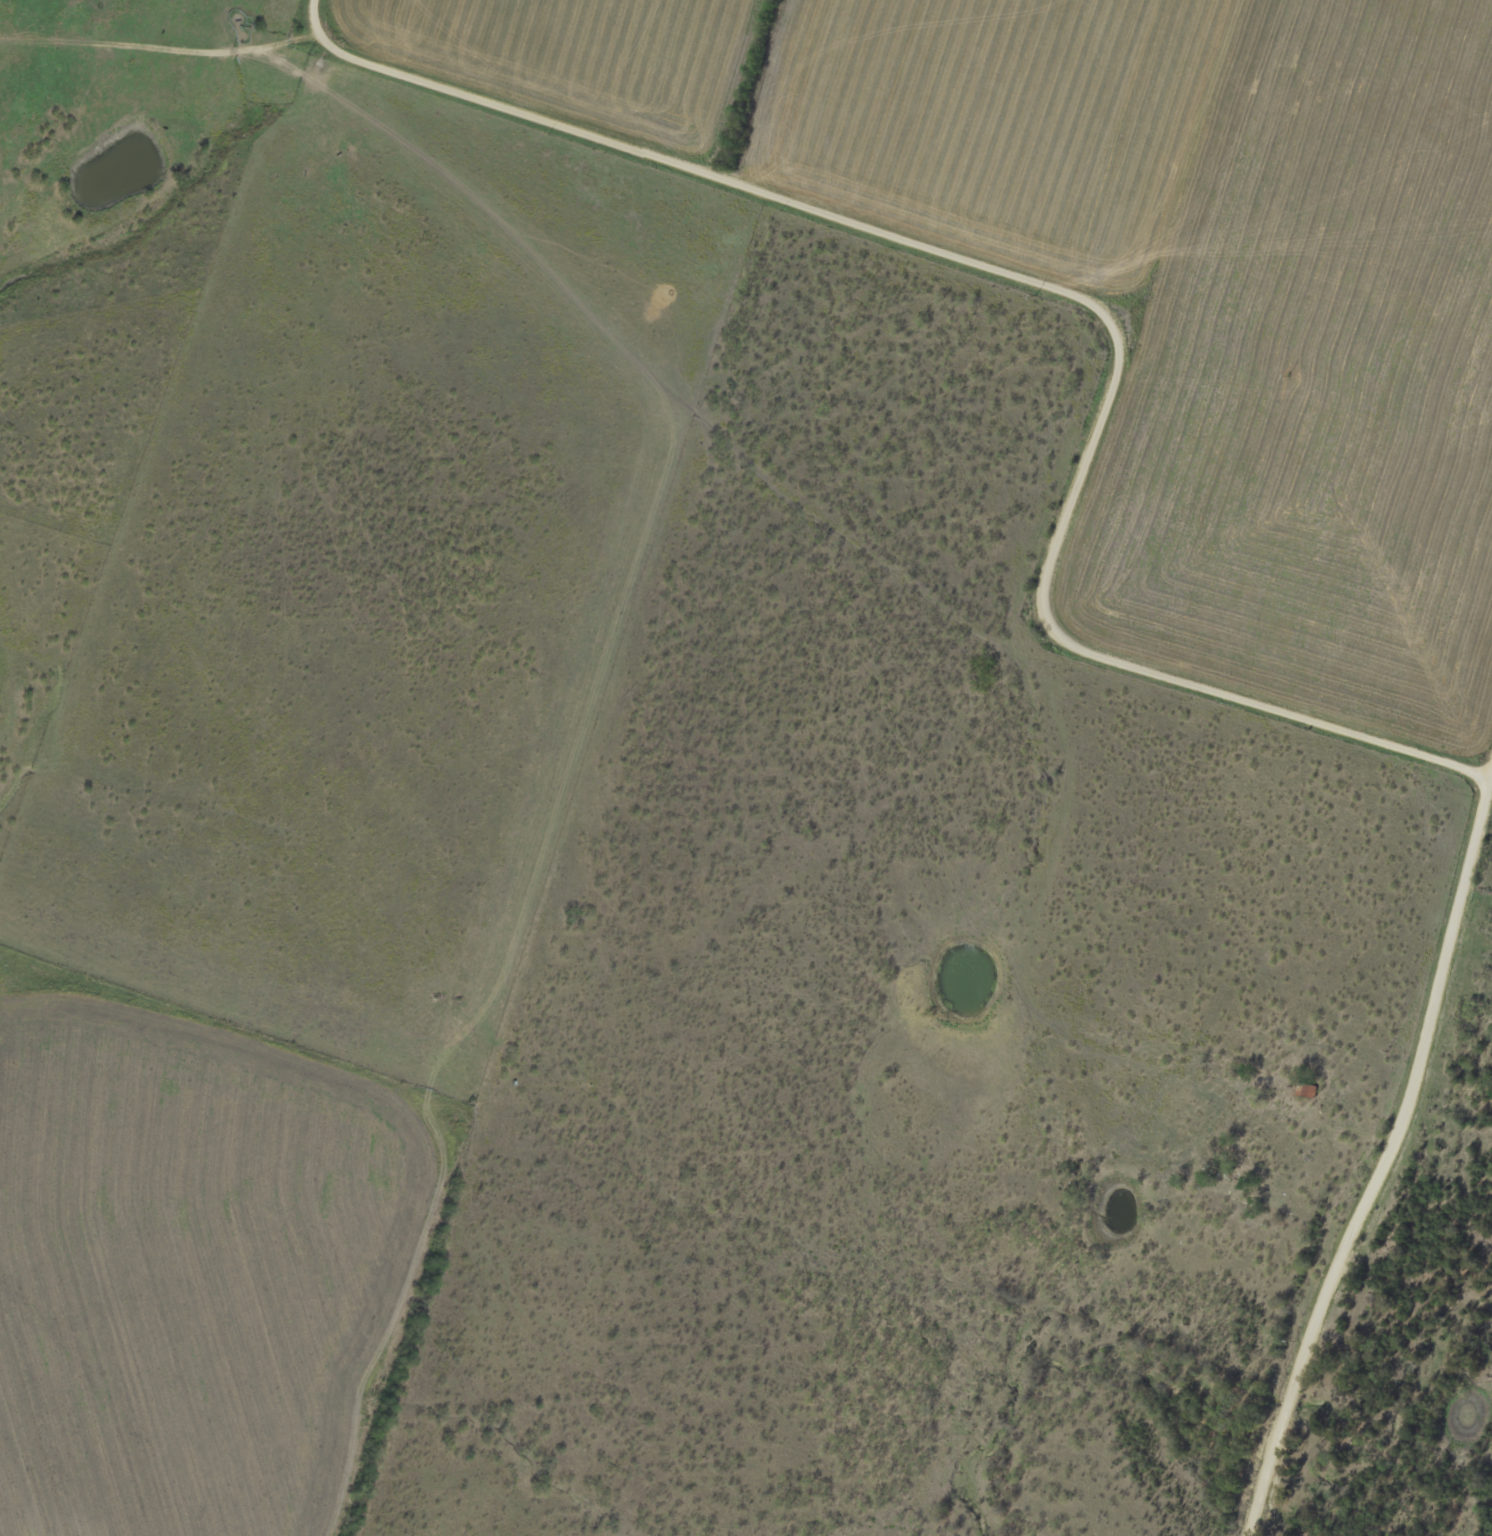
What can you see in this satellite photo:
road: (314, 4)
road: (1077, 296)
road: (1491, 774)
road: (1384, 1160)

